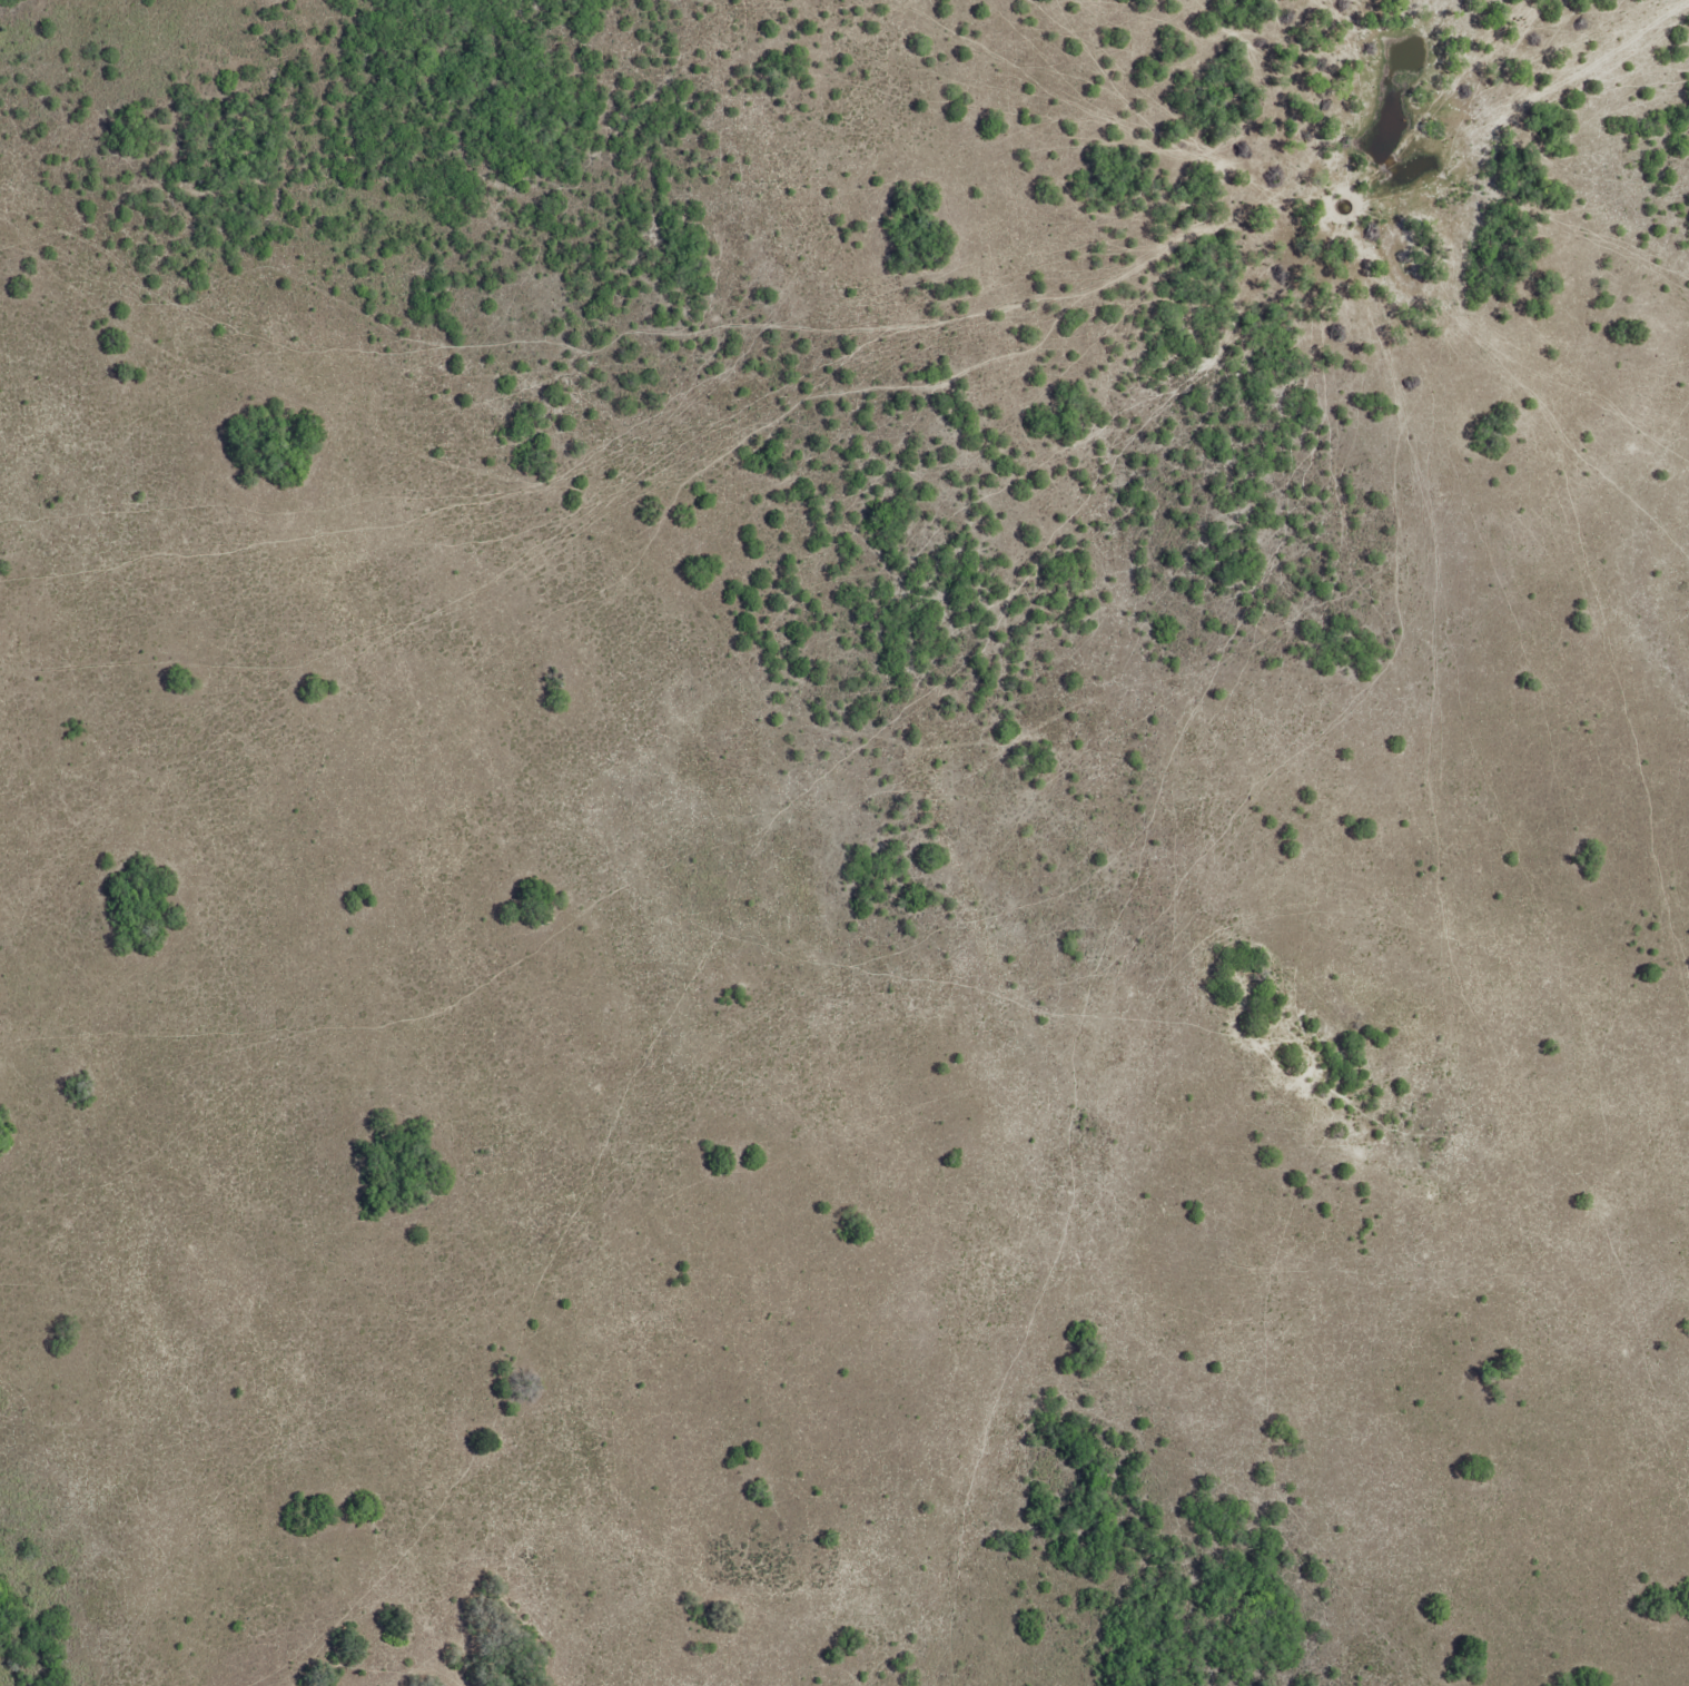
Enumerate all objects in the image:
road: (1599, 89)

